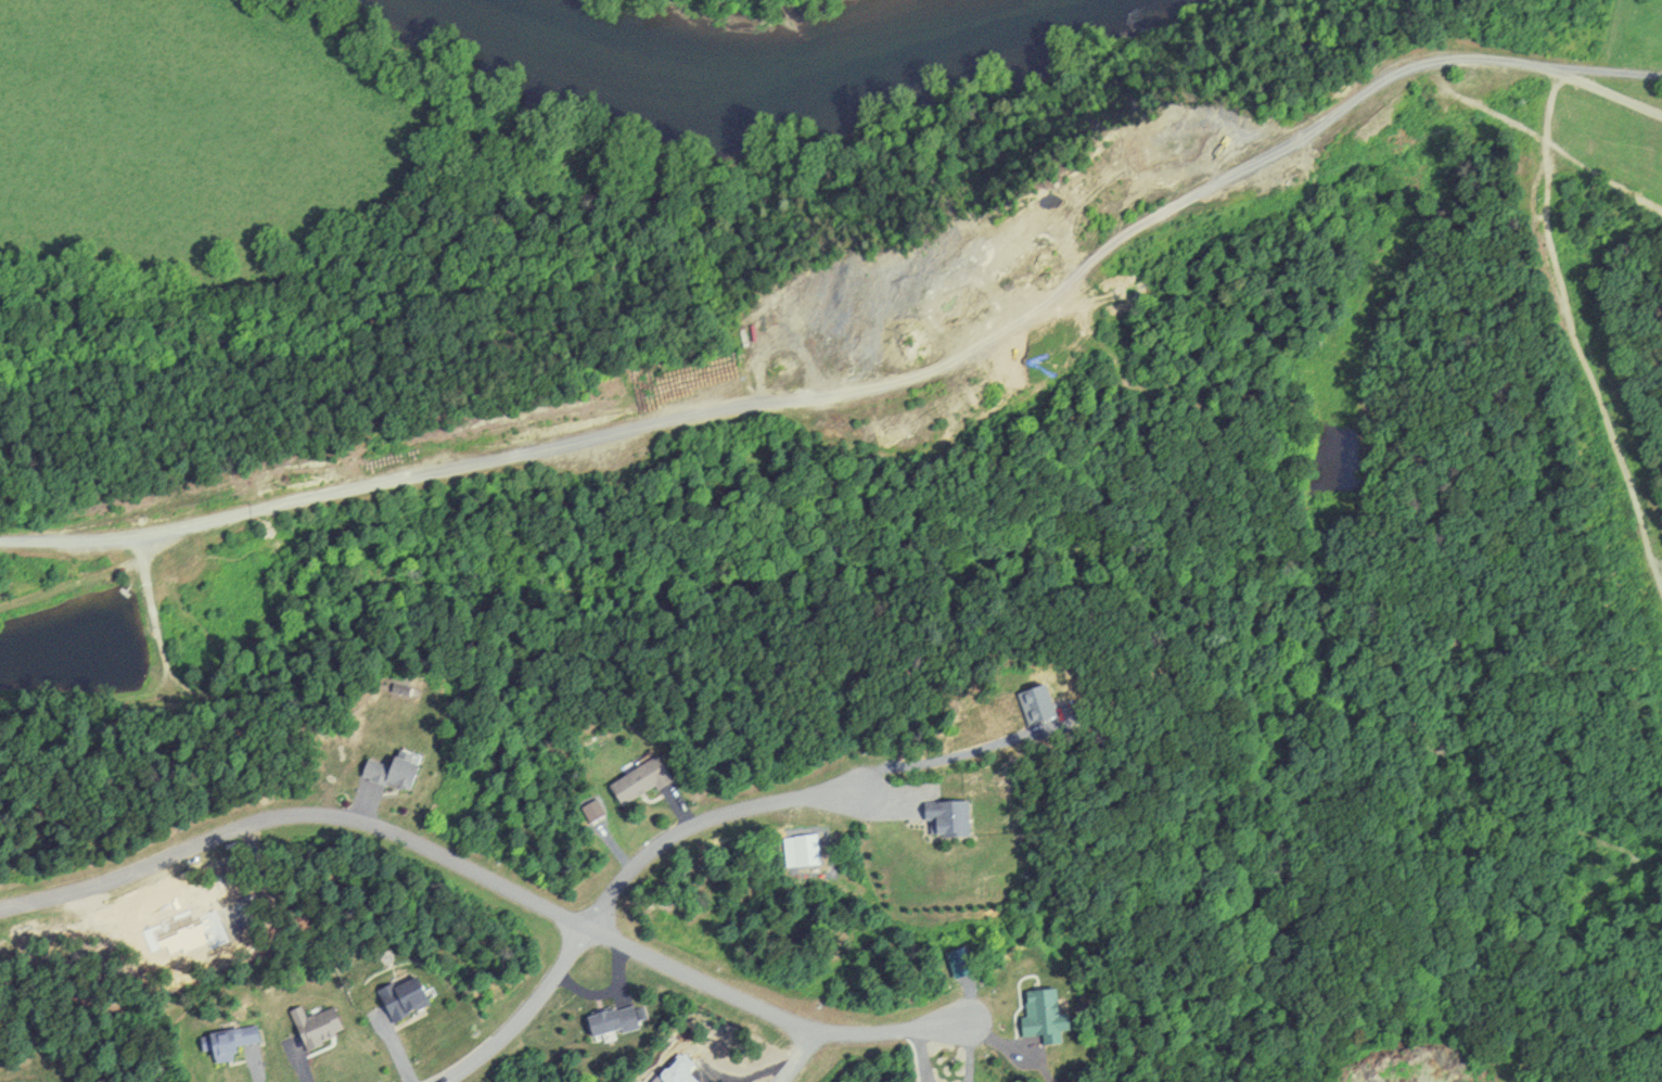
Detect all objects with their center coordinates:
wastewater plant: (719, 2)
river: (793, 71)
road: (1580, 334)
building: (634, 779)
building: (946, 819)
road: (415, 839)
road: (618, 881)
building: (608, 1020)
road: (890, 1032)
building: (229, 1044)
road: (798, 1056)

